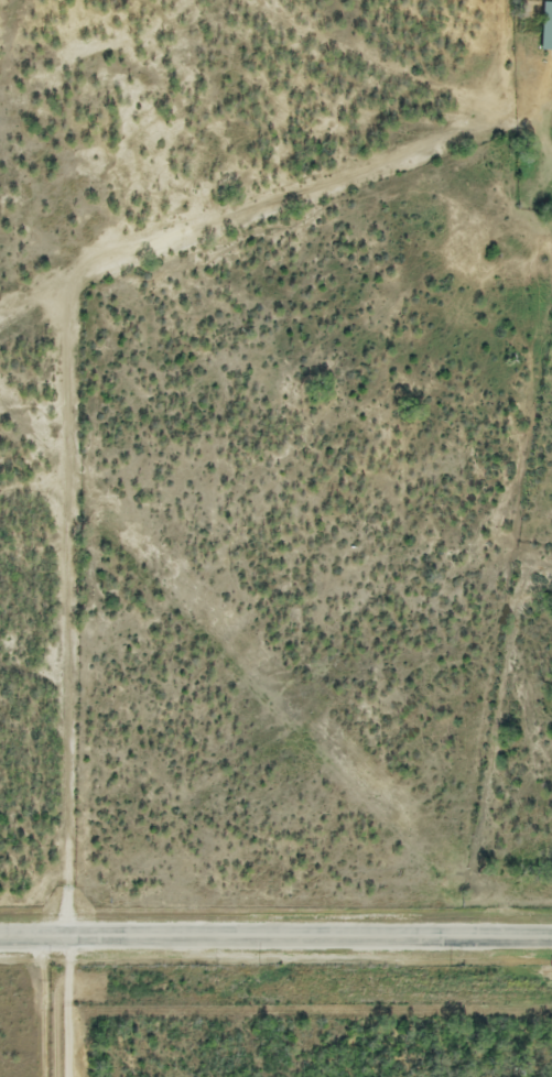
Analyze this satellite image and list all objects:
road: (84, 363)
road: (275, 936)
road: (44, 1005)
road: (72, 1007)

